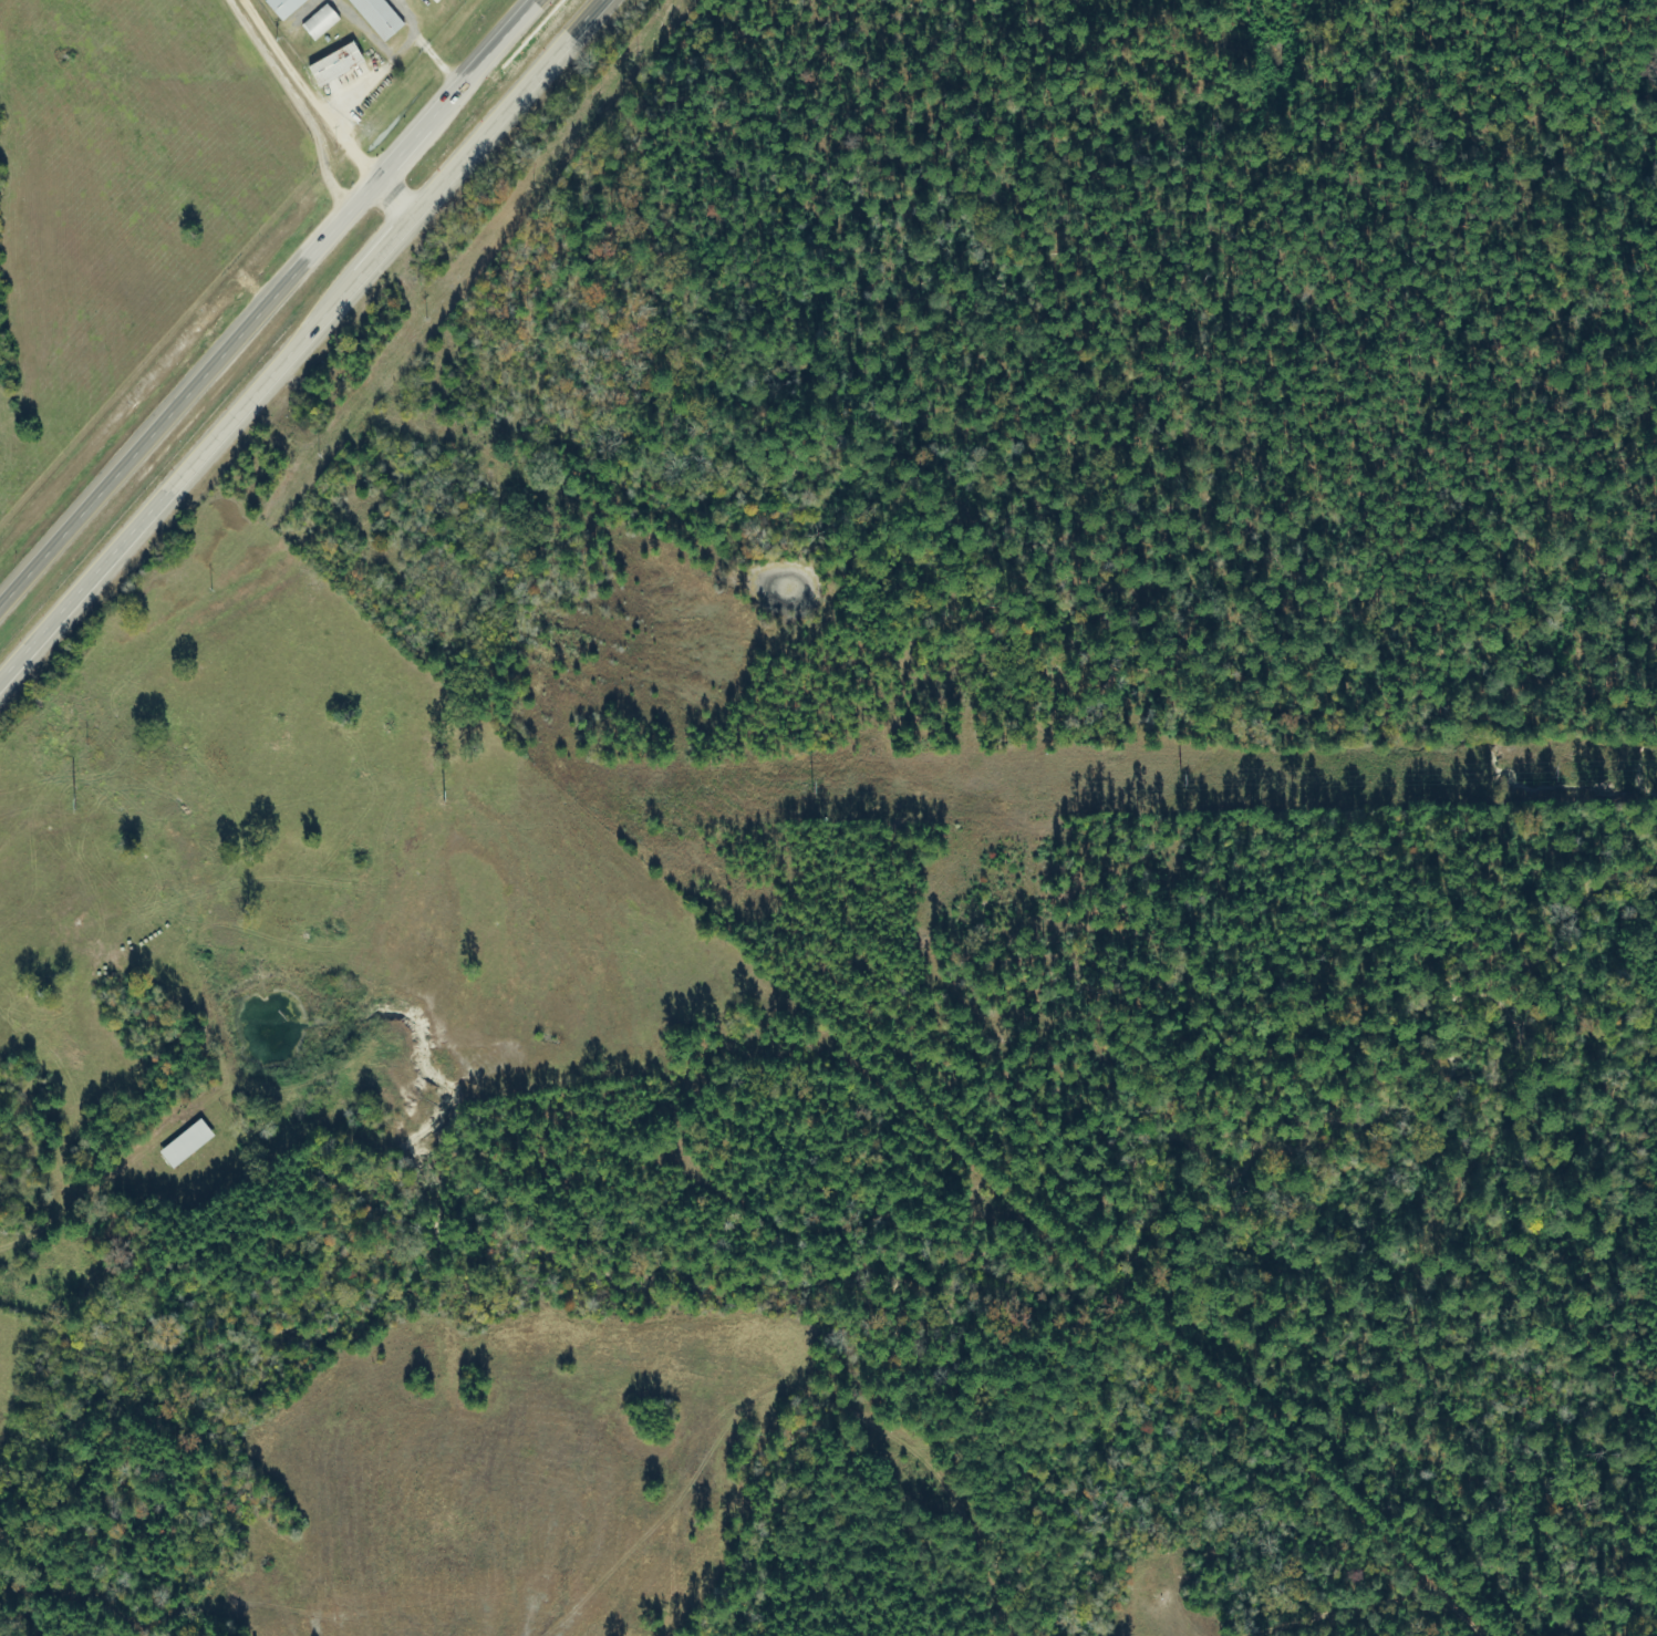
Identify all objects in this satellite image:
building: (286, 8)
building: (380, 18)
building: (322, 23)
road: (504, 41)
building: (339, 65)
road: (313, 92)
road: (296, 103)
road: (505, 105)
road: (422, 133)
road: (395, 197)
road: (366, 263)
road: (188, 394)
road: (159, 499)
power tower: (1546, 774)
power tower: (1177, 779)
power tower: (809, 786)
power tower: (442, 796)
power tower: (71, 806)
building: (189, 1143)

